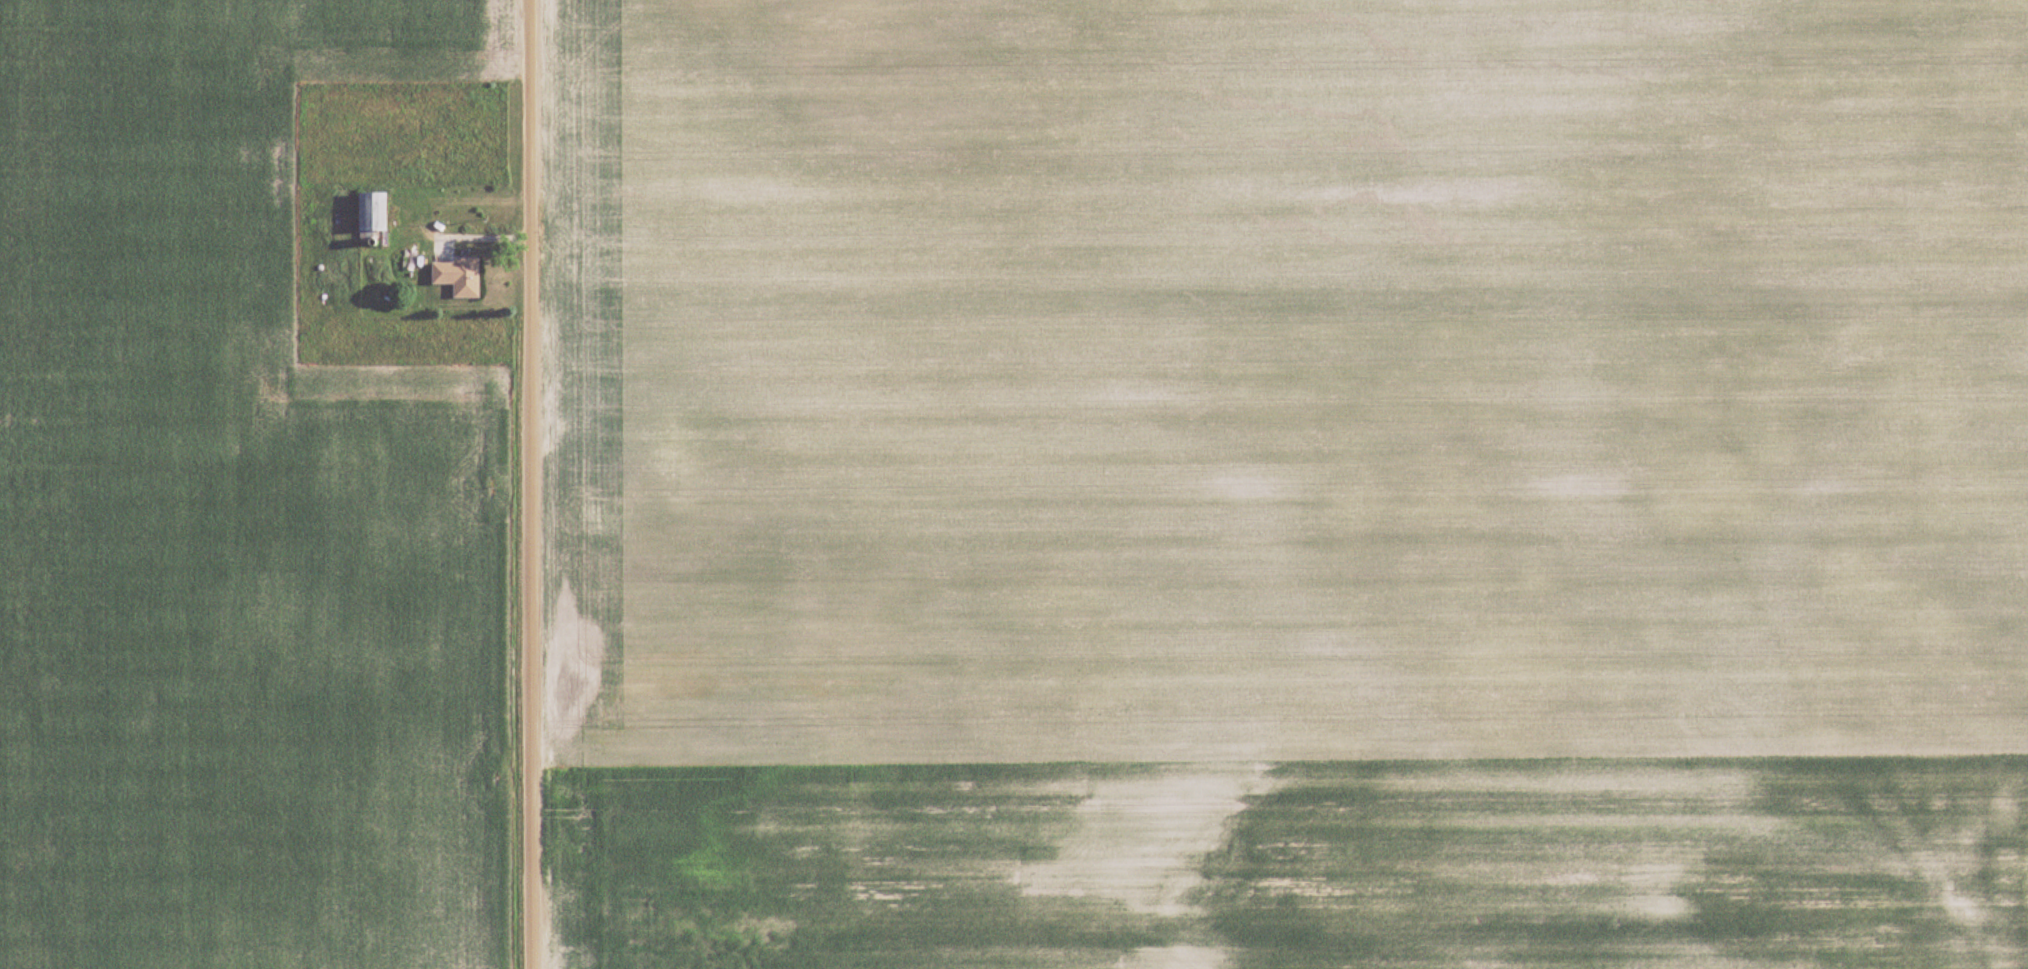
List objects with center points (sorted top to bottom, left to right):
building: (371, 213)
building: (457, 275)
road: (529, 484)

